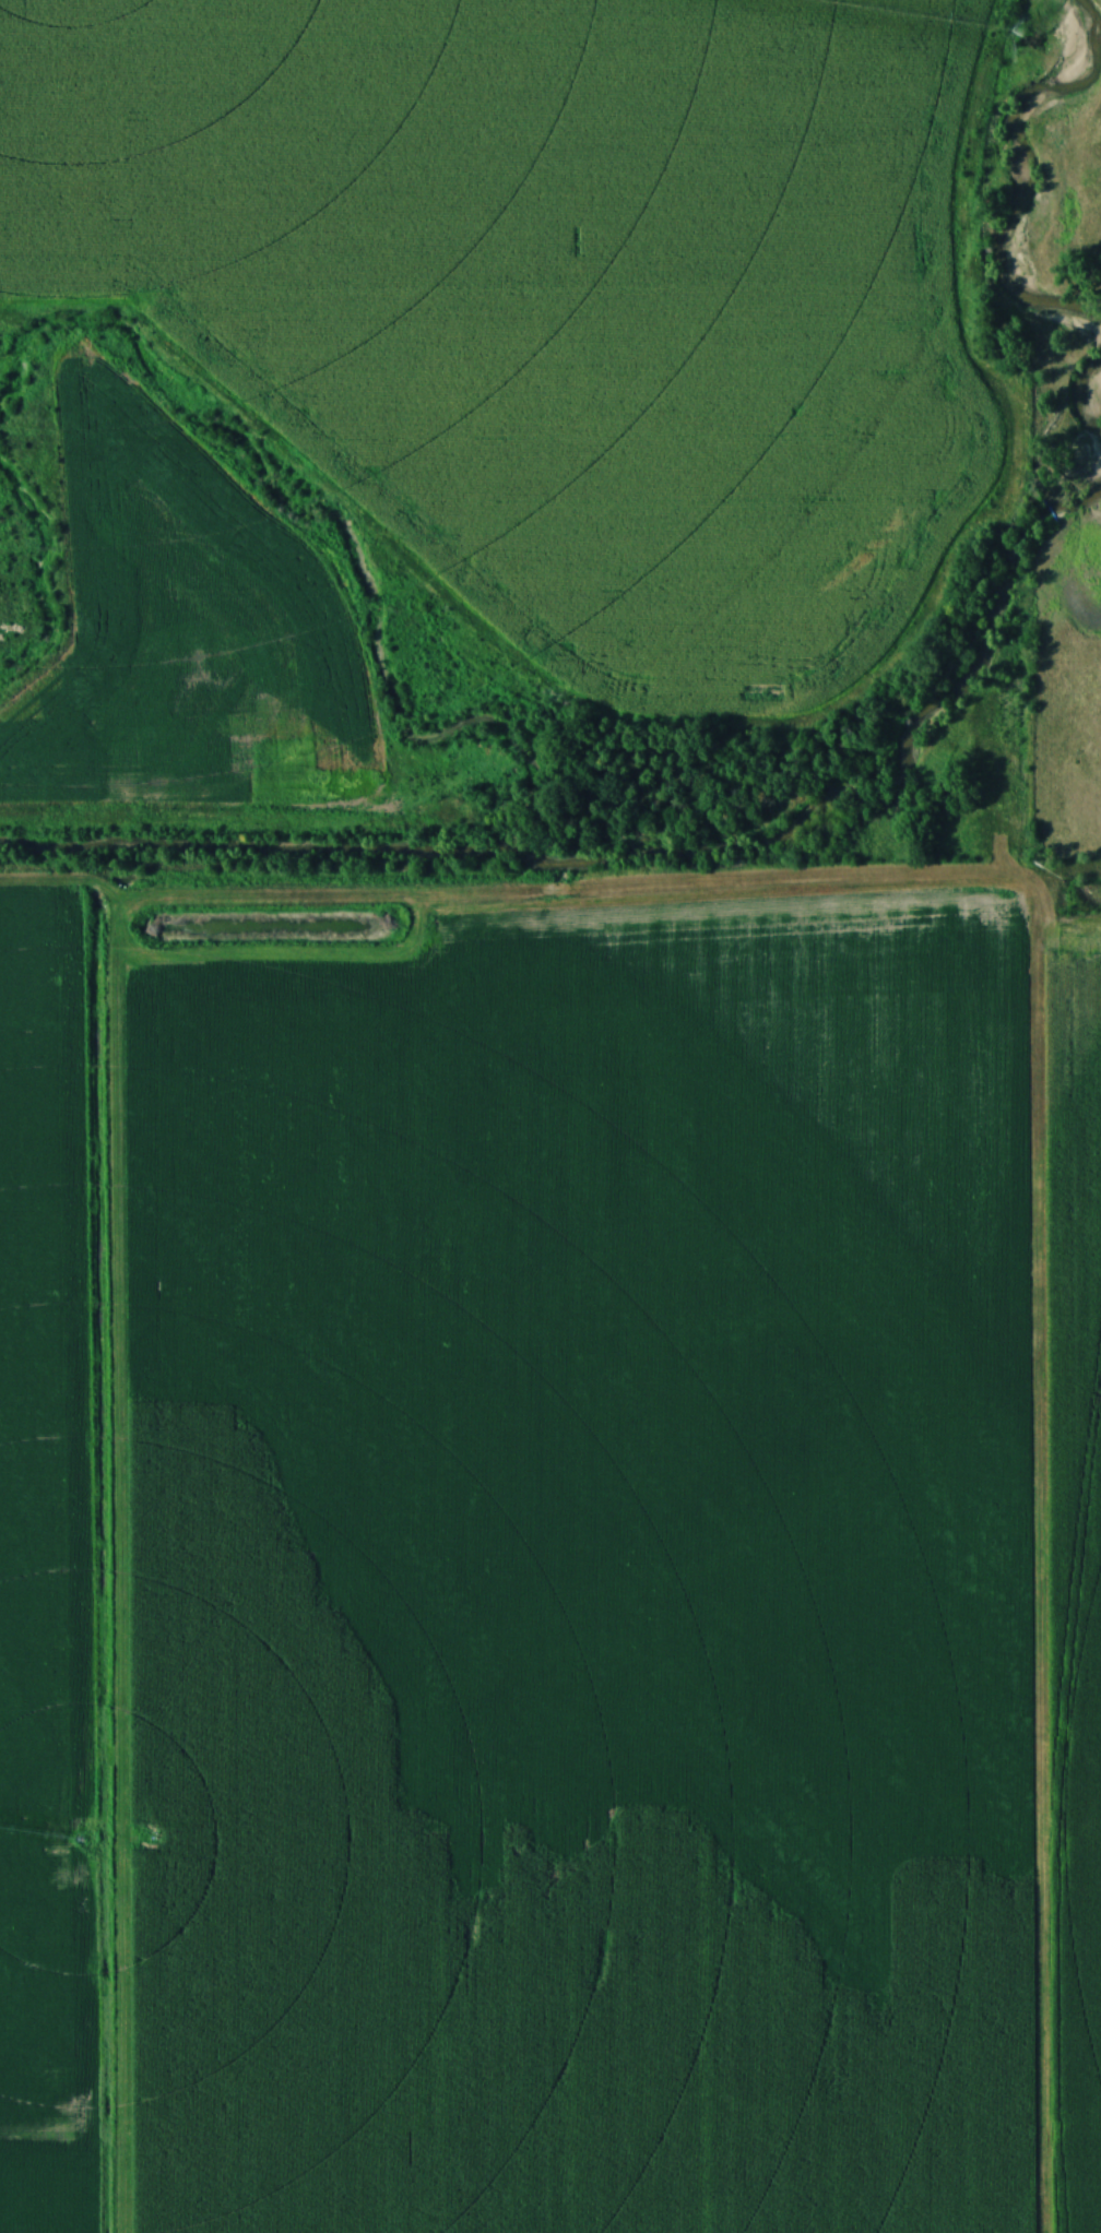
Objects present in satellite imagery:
river: (1092, 38)
river: (1016, 198)
river: (1087, 391)
river: (654, 845)

